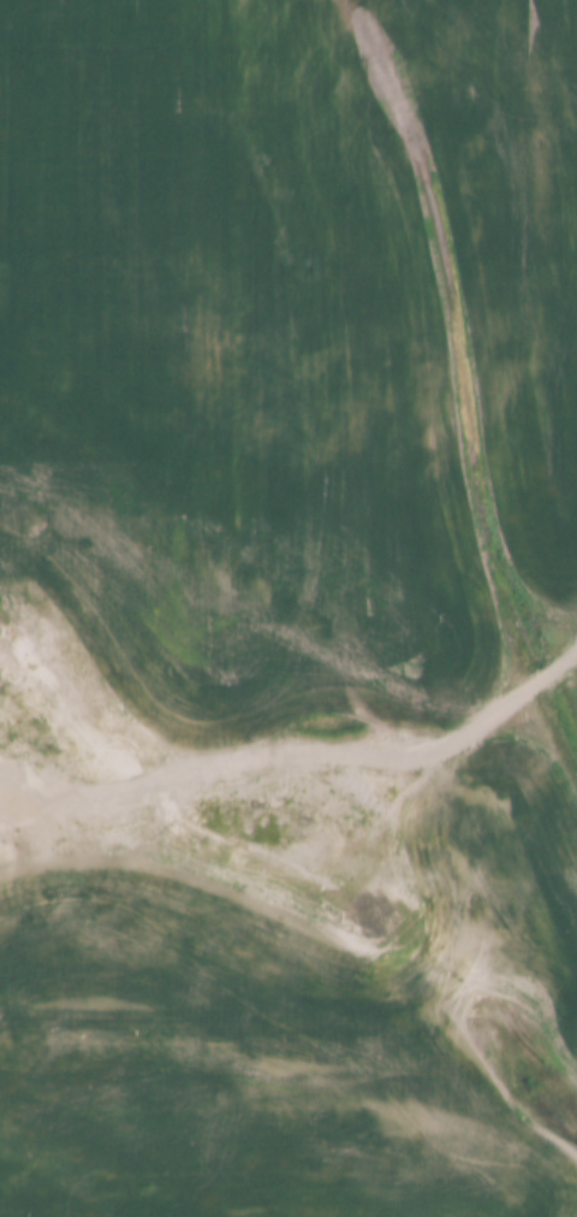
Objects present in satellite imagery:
quarry: (567, 644)
quarry: (233, 879)

